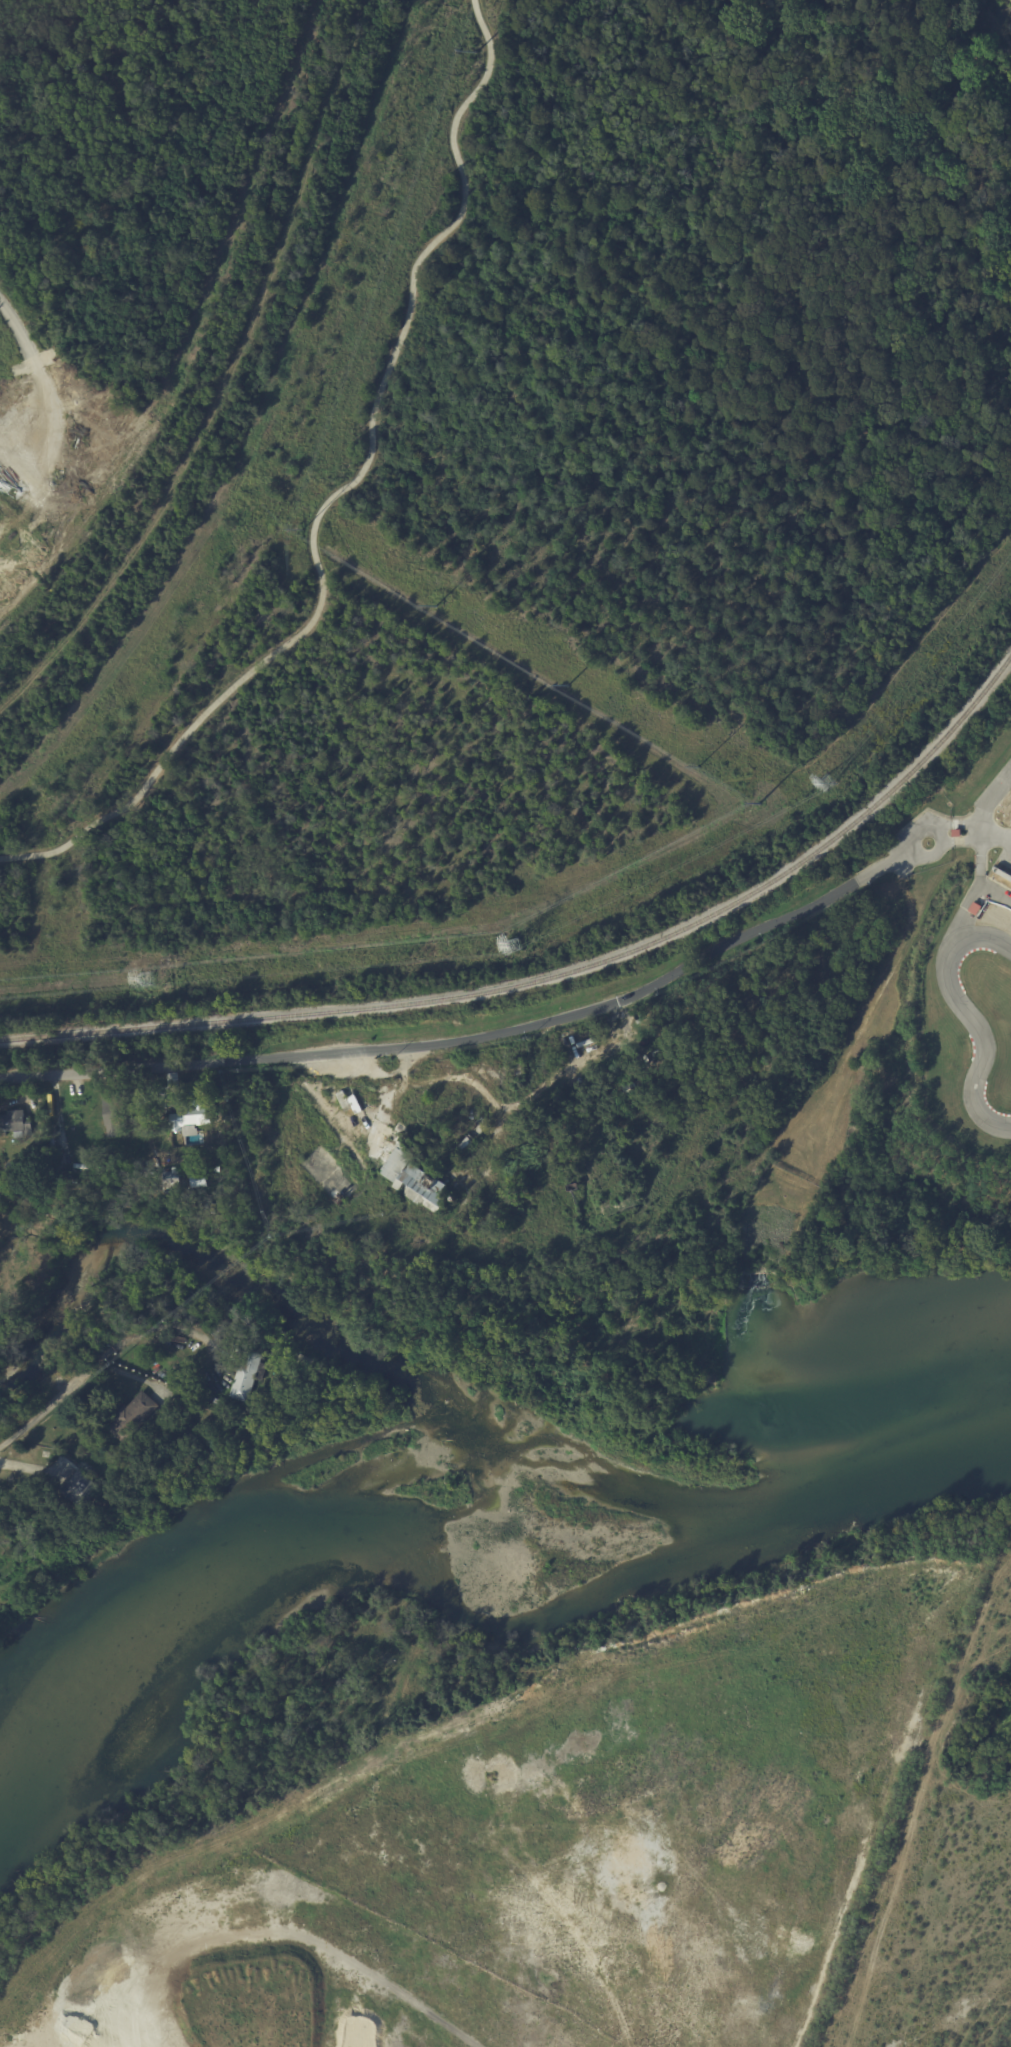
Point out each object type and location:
power tower: (477, 51)
road: (36, 377)
road: (333, 487)
power tower: (301, 529)
power tower: (436, 606)
power tower: (570, 687)
park: (989, 728)
power tower: (698, 766)
power tower: (826, 786)
road: (990, 802)
power tower: (761, 803)
road: (937, 826)
building: (956, 832)
road: (997, 836)
road: (942, 847)
parking lot: (1006, 853)
road: (982, 875)
building: (975, 908)
road: (958, 925)
power tower: (506, 943)
road: (716, 951)
railway: (559, 974)
power tower: (144, 977)
raceway: (971, 1016)
road: (261, 1055)
building: (519, 1068)
building: (344, 1100)
building: (354, 1103)
building: (115, 1114)
building: (190, 1118)
building: (15, 1123)
building: (471, 1136)
building: (56, 1164)
building: (21, 1171)
building: (412, 1175)
building: (197, 1179)
building: (171, 1181)
building: (574, 1187)
building: (29, 1206)
park: (914, 1210)
building: (244, 1372)
road: (56, 1398)
building: (213, 1399)
building: (220, 1410)
building: (131, 1416)
building: (81, 1489)
building: (45, 1560)
river: (470, 1570)

